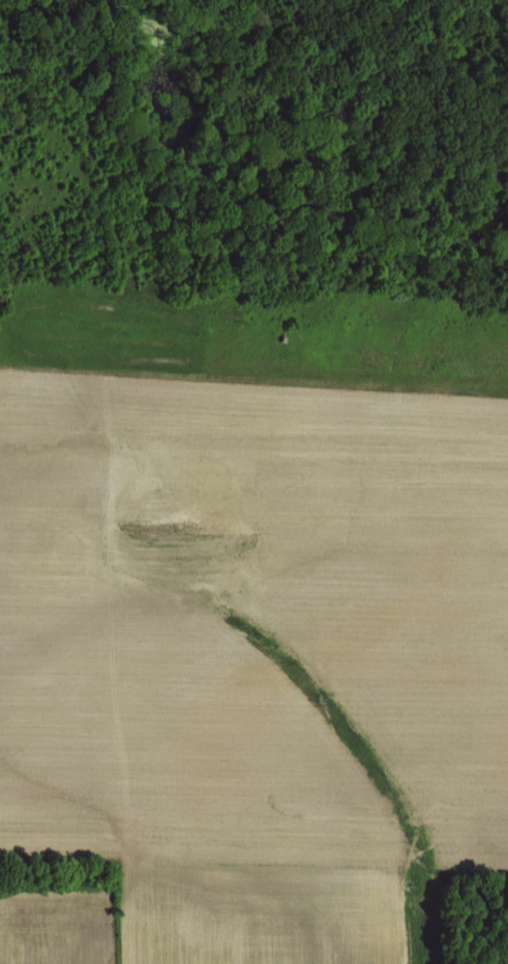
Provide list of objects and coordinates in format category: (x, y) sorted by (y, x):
crop: (254, 482)

